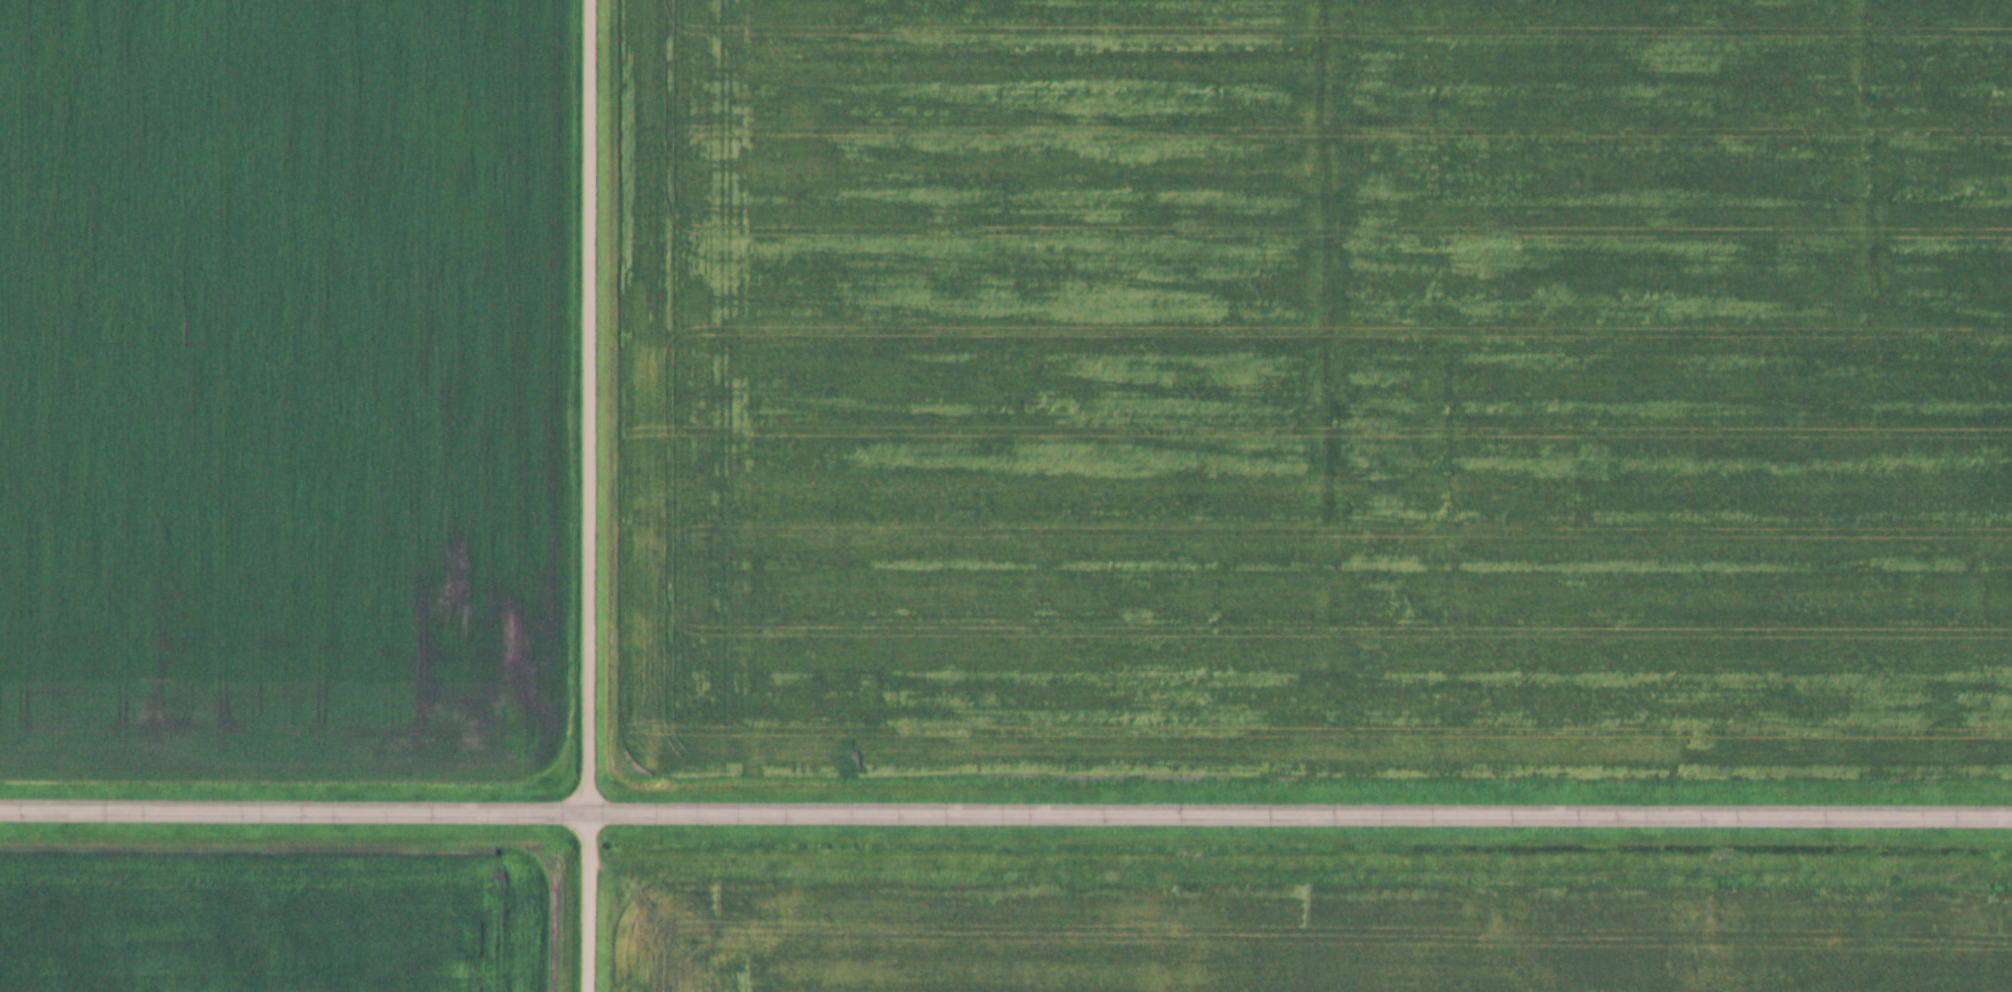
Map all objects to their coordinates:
road: (591, 496)
road: (1006, 813)

